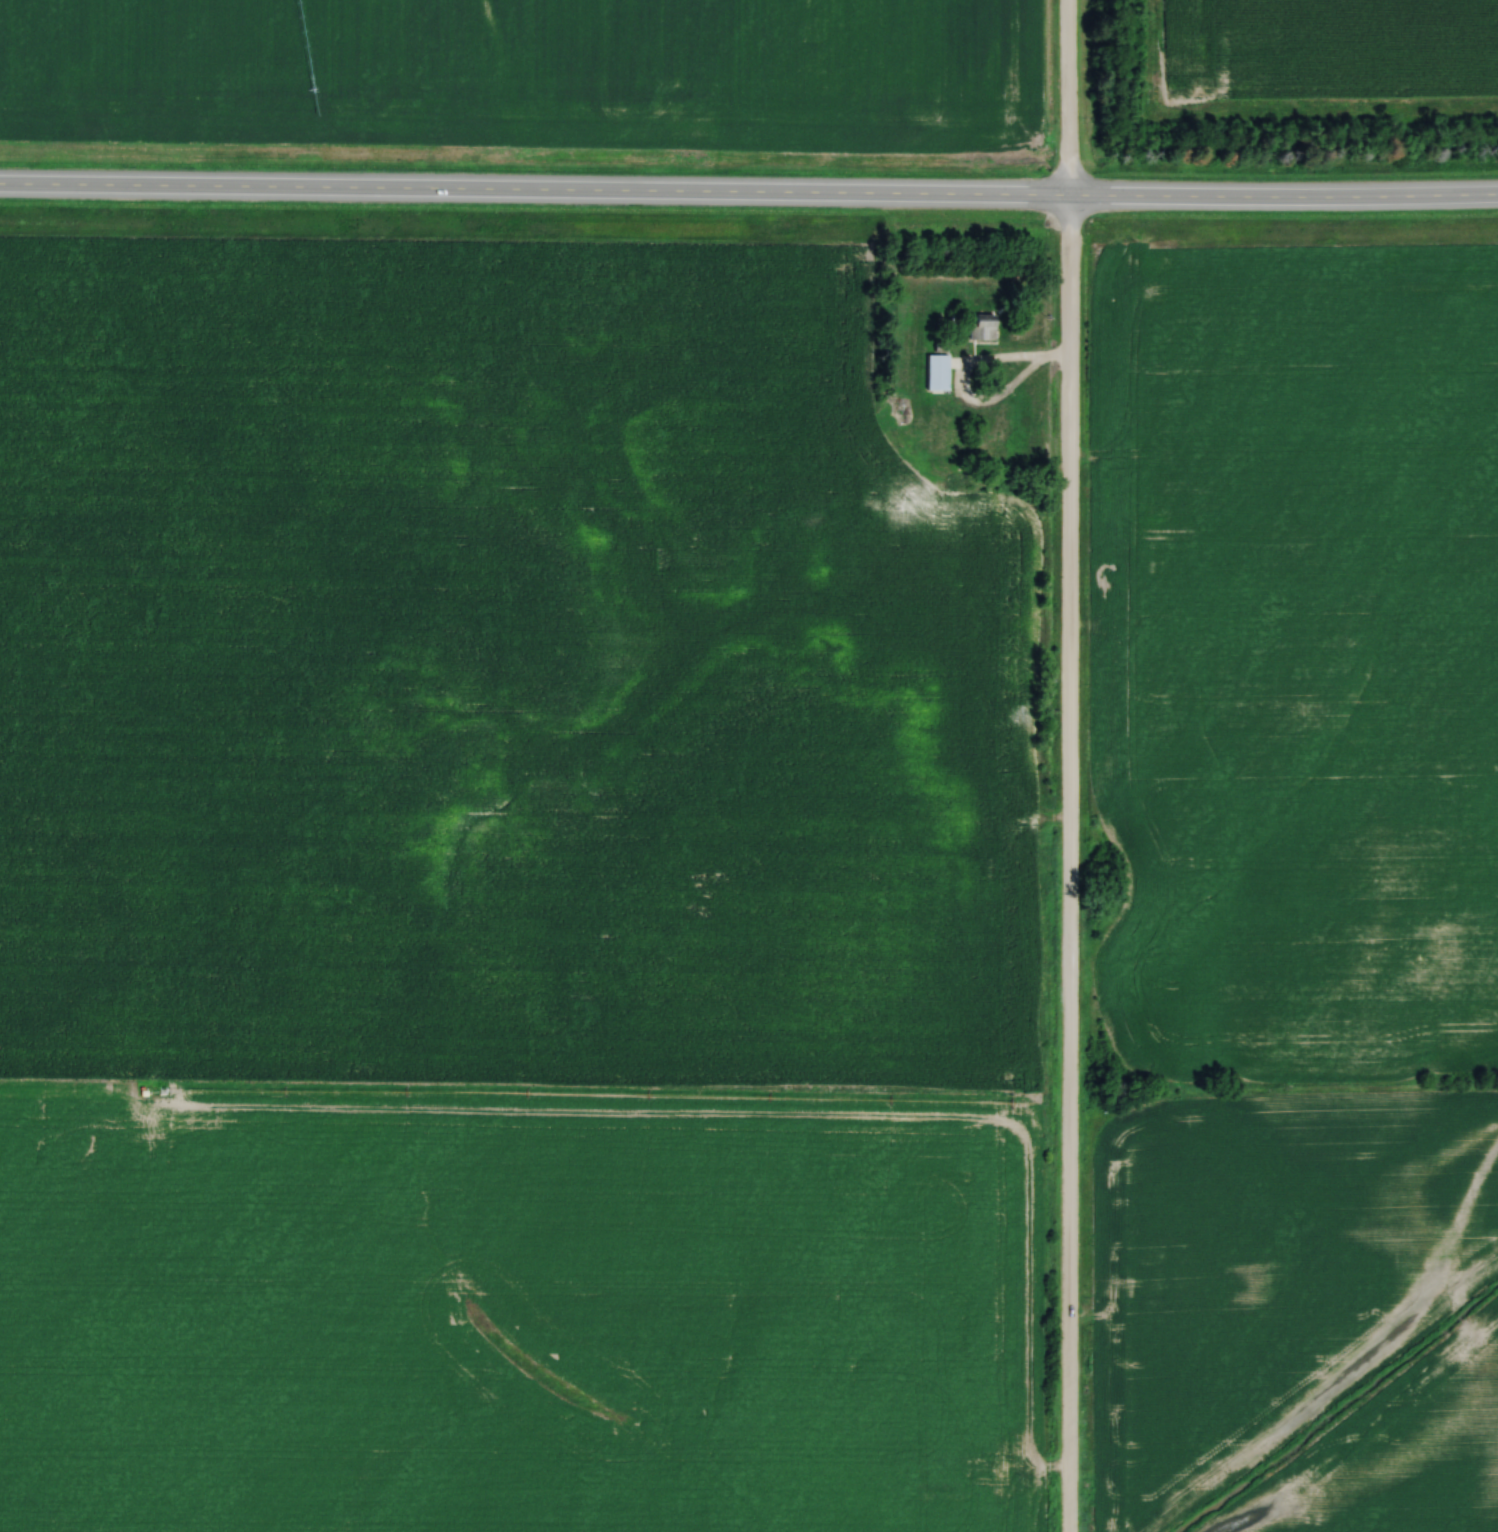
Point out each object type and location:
road: (749, 193)
building: (984, 326)
building: (939, 372)
road: (1067, 765)

